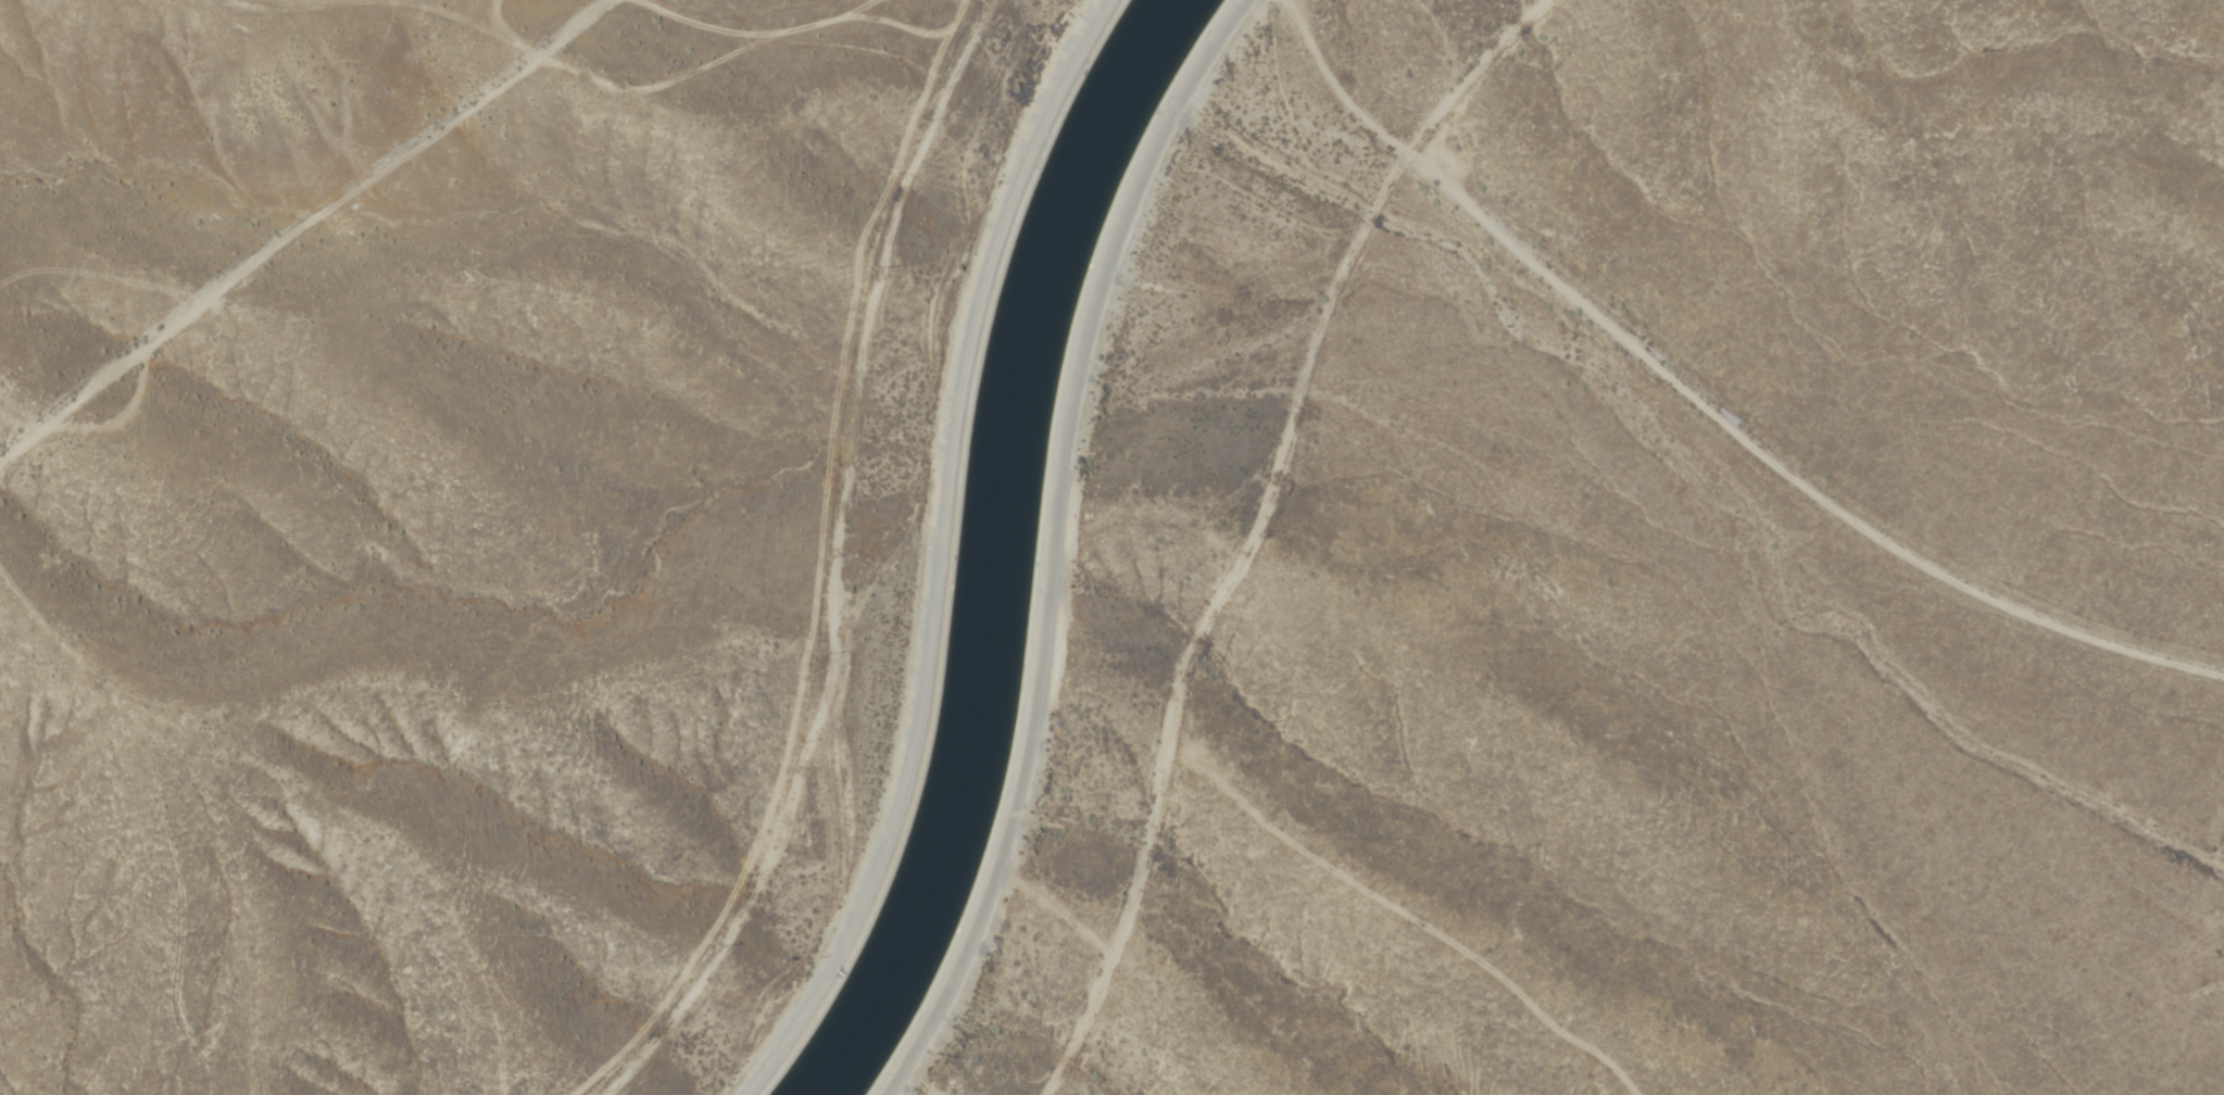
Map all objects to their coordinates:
road: (438, 27)
road: (305, 224)
road: (1779, 475)
road: (1259, 516)
road: (1051, 542)
road: (939, 553)

